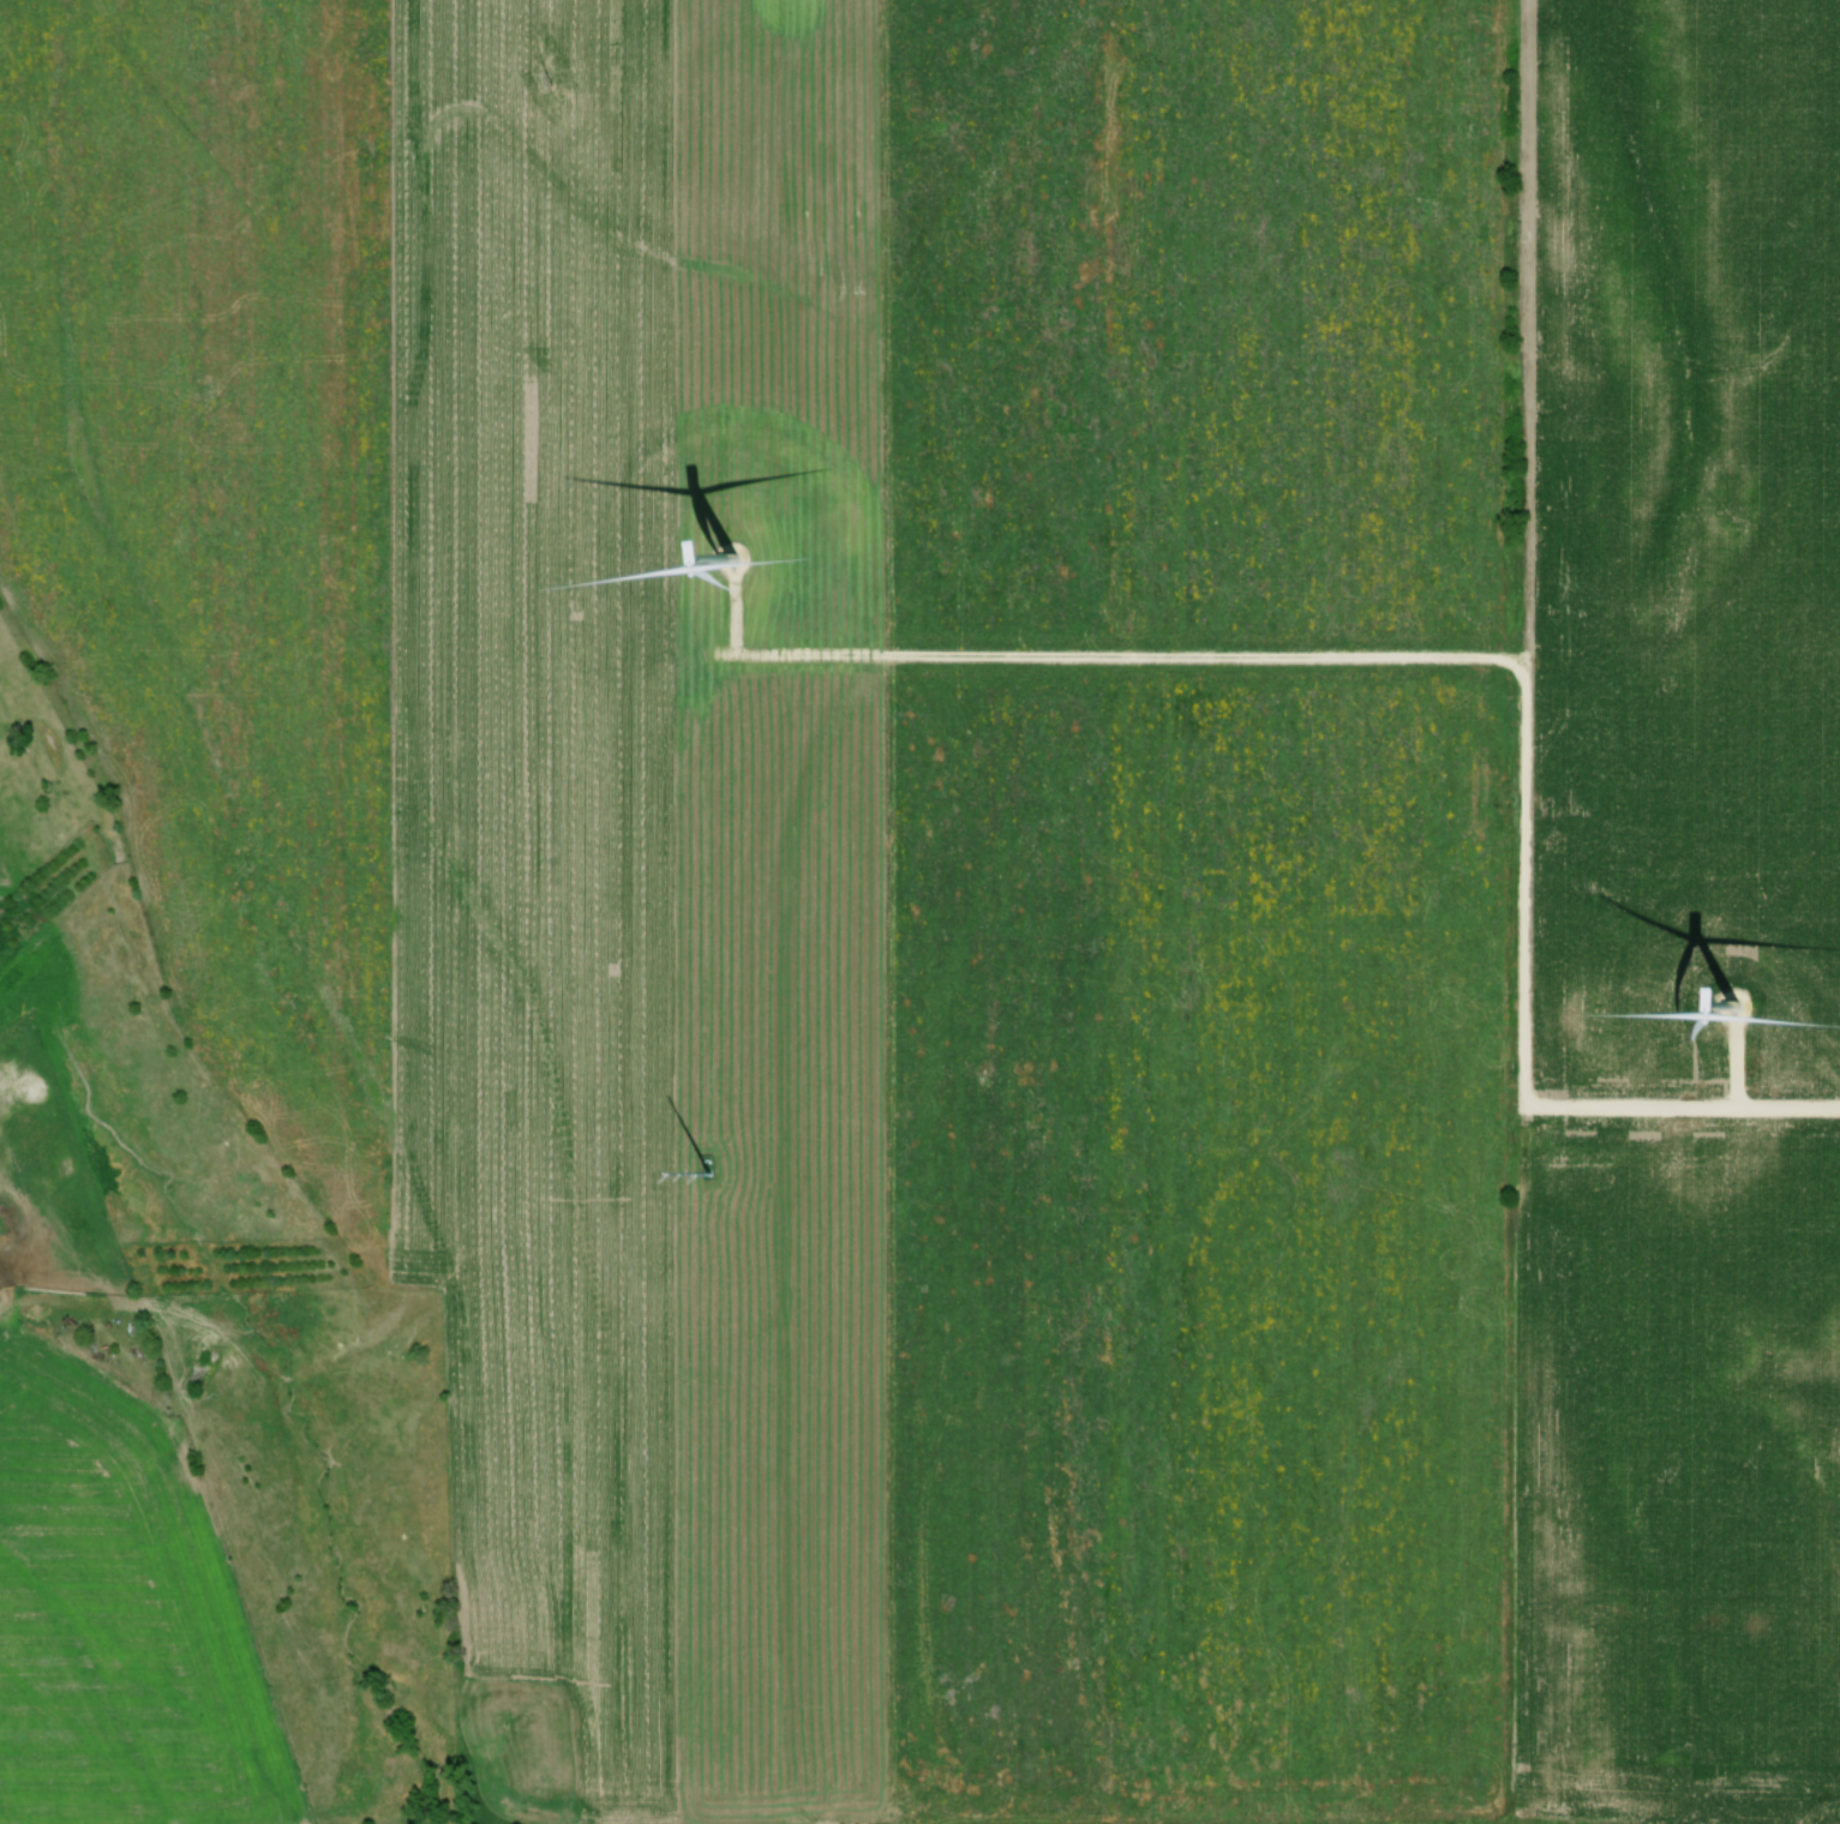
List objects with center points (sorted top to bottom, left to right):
wind turbine: (731, 558)
wind turbine: (1733, 1003)

